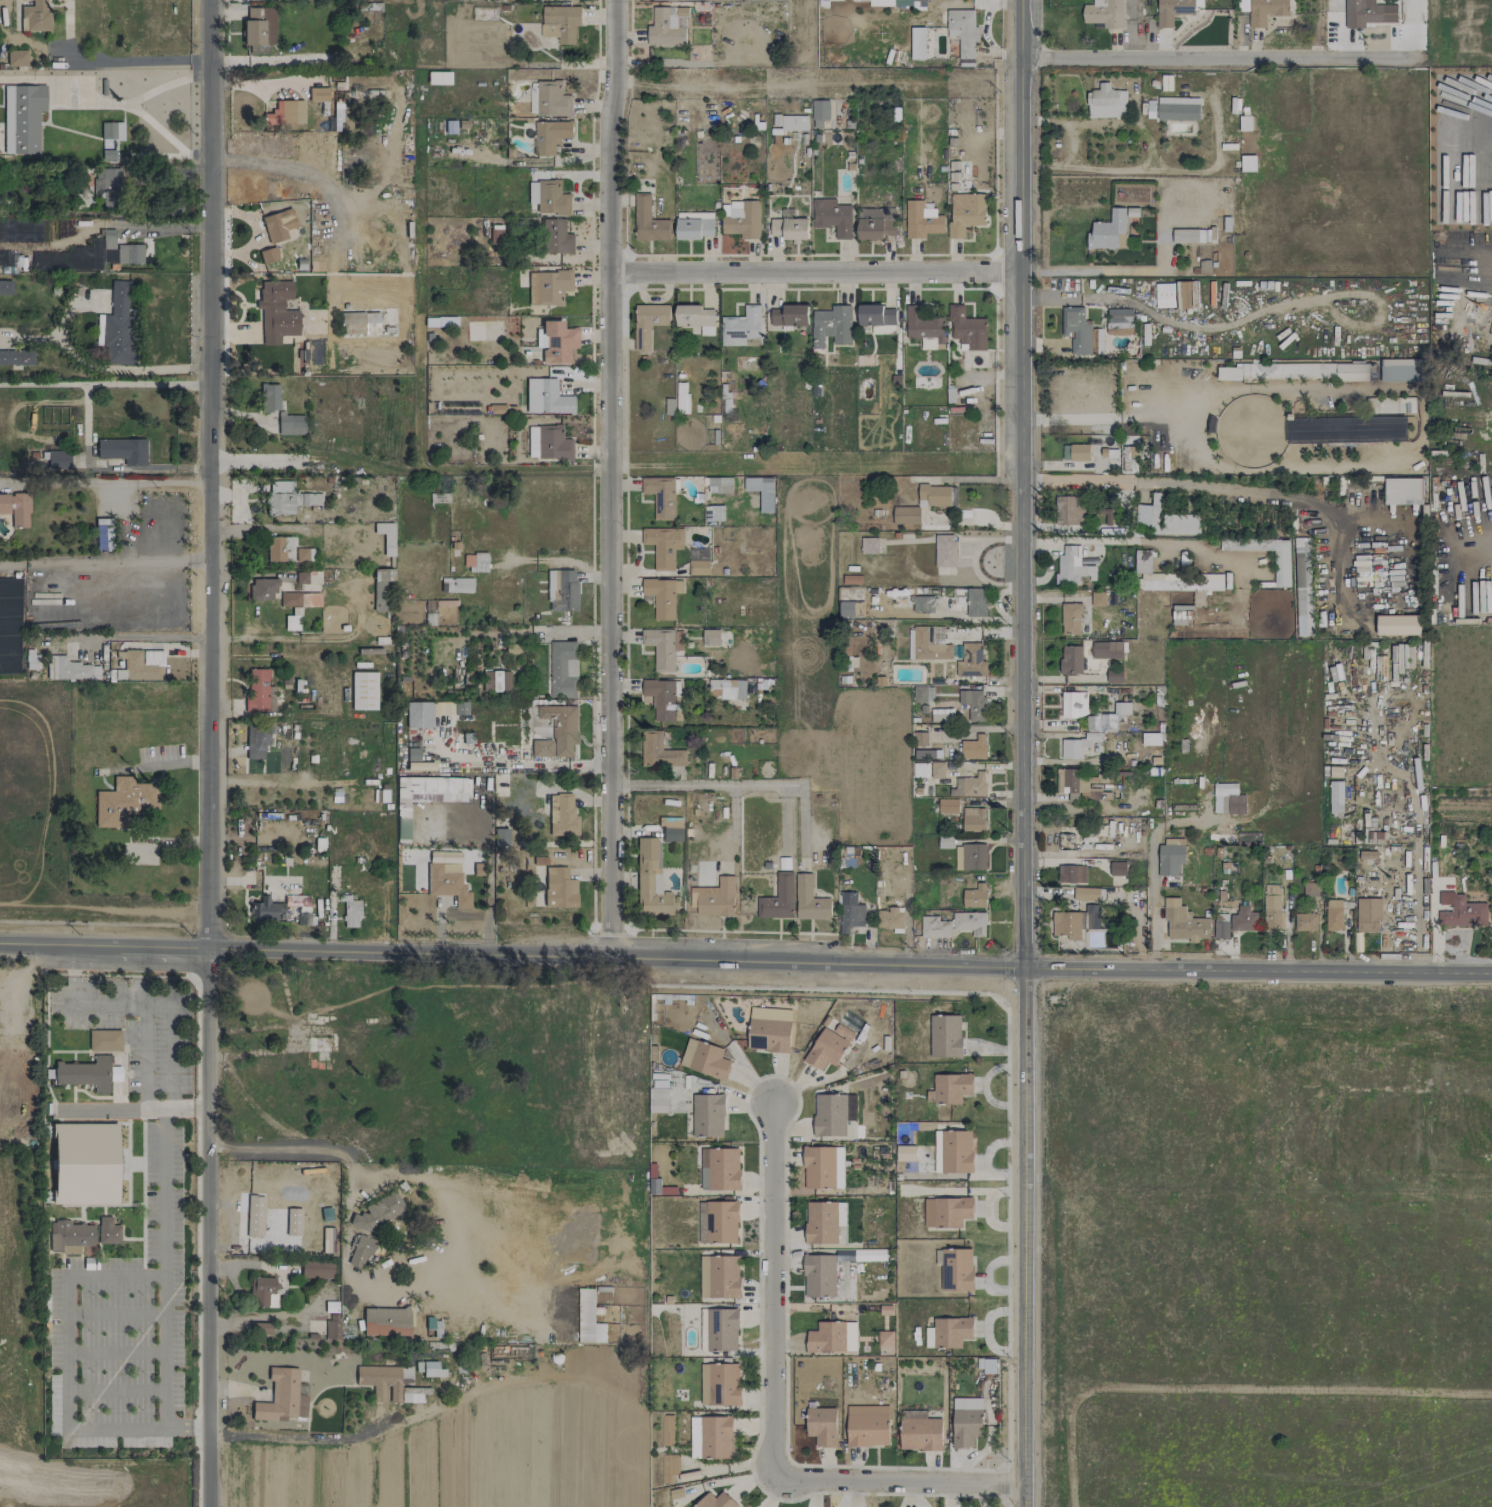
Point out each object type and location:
building: (905, 2)
building: (1172, 11)
building: (1266, 11)
building: (1371, 13)
building: (1104, 14)
building: (35, 16)
building: (561, 23)
building: (256, 26)
building: (667, 26)
building: (963, 34)
building: (918, 43)
building: (16, 58)
road: (109, 58)
road: (1217, 60)
building: (437, 77)
building: (317, 94)
building: (552, 99)
building: (1106, 102)
building: (1151, 108)
building: (1178, 108)
building: (820, 112)
building: (281, 113)
building: (22, 118)
building: (789, 122)
road: (1069, 122)
building: (111, 130)
building: (550, 136)
road: (1479, 147)
building: (108, 149)
building: (1248, 163)
building: (106, 186)
building: (548, 197)
building: (966, 213)
building: (832, 216)
building: (743, 219)
building: (648, 220)
building: (921, 220)
building: (876, 223)
building: (277, 225)
building: (694, 225)
building: (790, 228)
building: (1107, 230)
building: (16, 231)
building: (495, 236)
building: (556, 237)
building: (88, 255)
building: (268, 255)
building: (5, 258)
road: (1116, 271)
road: (815, 273)
road: (1487, 276)
building: (5, 287)
building: (547, 287)
building: (1184, 294)
building: (1165, 298)
building: (276, 308)
building: (790, 315)
building: (876, 315)
building: (696, 318)
building: (440, 321)
building: (1119, 321)
building: (649, 322)
building: (831, 325)
building: (924, 325)
building: (117, 326)
building: (742, 328)
building: (967, 328)
building: (1081, 332)
building: (556, 341)
building: (16, 357)
building: (1294, 371)
building: (1403, 373)
road: (104, 384)
building: (682, 396)
building: (269, 397)
building: (545, 397)
building: (1393, 405)
building: (290, 424)
building: (1346, 429)
building: (547, 443)
building: (122, 450)
building: (1075, 452)
building: (57, 460)
road: (610, 475)
road: (104, 481)
road: (1078, 481)
road: (1235, 489)
building: (1403, 491)
building: (661, 495)
building: (938, 495)
building: (286, 498)
building: (4, 503)
building: (20, 509)
building: (906, 515)
building: (1104, 517)
building: (1166, 519)
building: (103, 533)
building: (385, 537)
road: (1476, 544)
building: (869, 545)
building: (663, 546)
building: (277, 548)
building: (944, 550)
building: (302, 554)
building: (696, 555)
building: (475, 562)
building: (1143, 562)
road: (104, 565)
building: (1072, 566)
building: (699, 568)
building: (1281, 568)
building: (313, 576)
building: (1182, 584)
building: (380, 587)
building: (1303, 587)
building: (262, 588)
building: (561, 590)
building: (663, 596)
building: (299, 599)
building: (1098, 599)
building: (976, 602)
building: (922, 604)
building: (1182, 615)
building: (1071, 619)
building: (1398, 625)
building: (9, 627)
road: (142, 637)
building: (663, 647)
building: (971, 660)
building: (1071, 660)
building: (141, 663)
building: (563, 669)
building: (1114, 675)
building: (500, 681)
building: (728, 688)
building: (363, 690)
building: (258, 692)
building: (923, 694)
building: (664, 699)
building: (973, 703)
building: (1073, 704)
building: (449, 708)
building: (418, 714)
building: (1108, 717)
building: (557, 732)
building: (1151, 738)
building: (256, 740)
building: (1076, 746)
building: (973, 748)
building: (659, 751)
road: (1023, 752)
road: (208, 753)
building: (922, 754)
building: (921, 770)
building: (938, 770)
road: (704, 785)
building: (969, 785)
building: (1077, 785)
building: (1335, 797)
building: (1228, 799)
building: (124, 801)
building: (948, 805)
building: (563, 816)
building: (402, 817)
building: (973, 820)
building: (670, 828)
building: (945, 842)
building: (974, 857)
building: (1170, 857)
building: (1117, 868)
building: (1071, 874)
building: (650, 881)
building: (447, 882)
building: (559, 888)
building: (1311, 889)
building: (1086, 893)
building: (975, 896)
building: (717, 898)
building: (778, 899)
building: (809, 900)
road: (1416, 906)
building: (1272, 907)
building: (266, 910)
building: (350, 912)
building: (850, 912)
building: (1463, 913)
building: (1333, 914)
building: (1368, 915)
building: (302, 916)
building: (1092, 916)
building: (890, 918)
building: (1244, 919)
building: (1184, 922)
building: (1305, 922)
building: (970, 923)
building: (1068, 924)
building: (1221, 926)
road: (743, 954)
building: (769, 1029)
building: (945, 1036)
building: (104, 1040)
building: (826, 1049)
building: (705, 1058)
building: (88, 1073)
building: (951, 1088)
building: (658, 1100)
building: (833, 1113)
building: (708, 1115)
building: (953, 1151)
building: (905, 1153)
building: (85, 1163)
building: (823, 1167)
building: (720, 1169)
road: (390, 1174)
building: (655, 1186)
parking lot: (161, 1188)
building: (378, 1212)
building: (946, 1212)
building: (254, 1216)
building: (824, 1221)
building: (293, 1222)
building: (718, 1222)
building: (107, 1231)
building: (69, 1236)
building: (327, 1238)
building: (360, 1250)
road: (164, 1267)
building: (316, 1269)
building: (963, 1269)
building: (821, 1275)
building: (719, 1277)
road: (232, 1282)
road: (772, 1289)
building: (263, 1292)
road: (264, 1318)
building: (386, 1321)
building: (332, 1326)
road: (786, 1328)
building: (722, 1330)
building: (948, 1332)
building: (832, 1337)
building: (885, 1339)
road: (65, 1350)
building: (986, 1365)
building: (427, 1368)
building: (390, 1383)
building: (720, 1384)
road: (430, 1411)
building: (966, 1421)
building: (822, 1425)
building: (868, 1429)
building: (666, 1430)
building: (919, 1431)
building: (711, 1437)
road: (757, 1441)
crop: (463, 1458)
building: (669, 1467)
road: (898, 1480)
road: (1008, 1484)
building: (716, 1501)

